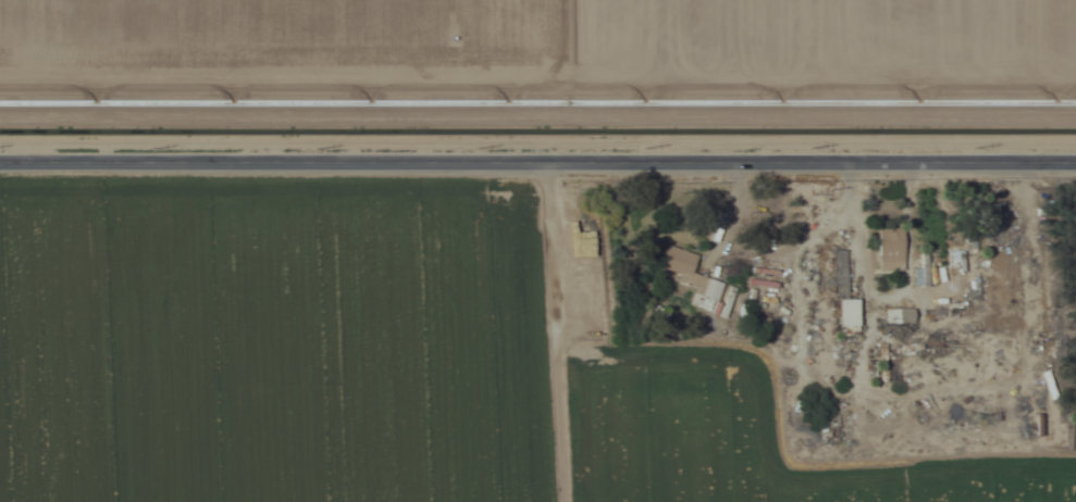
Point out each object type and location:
road: (537, 159)
building: (889, 250)
building: (687, 274)
building: (891, 315)
building: (846, 317)
crop: (276, 346)
crop: (720, 441)

